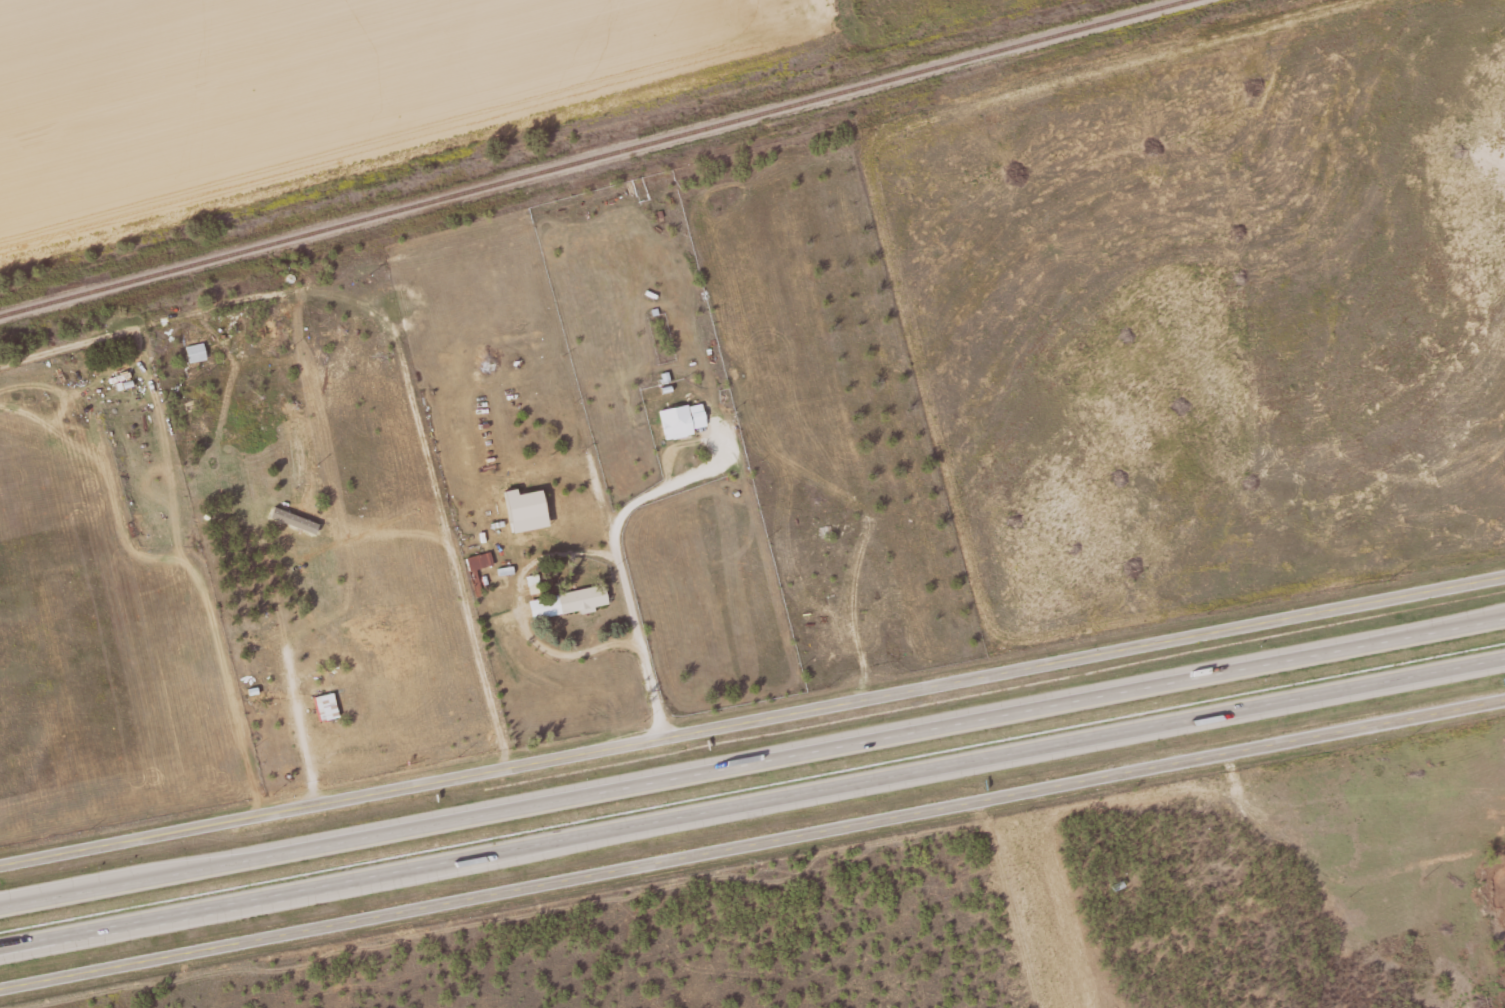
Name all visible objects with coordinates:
railway: (592, 157)
road: (131, 327)
building: (197, 352)
building: (677, 421)
road: (433, 477)
road: (163, 555)
road: (617, 555)
building: (569, 601)
building: (327, 706)
road: (289, 709)
road: (752, 719)
road: (752, 762)
road: (752, 800)
road: (753, 850)
road: (135, 869)
road: (61, 943)

